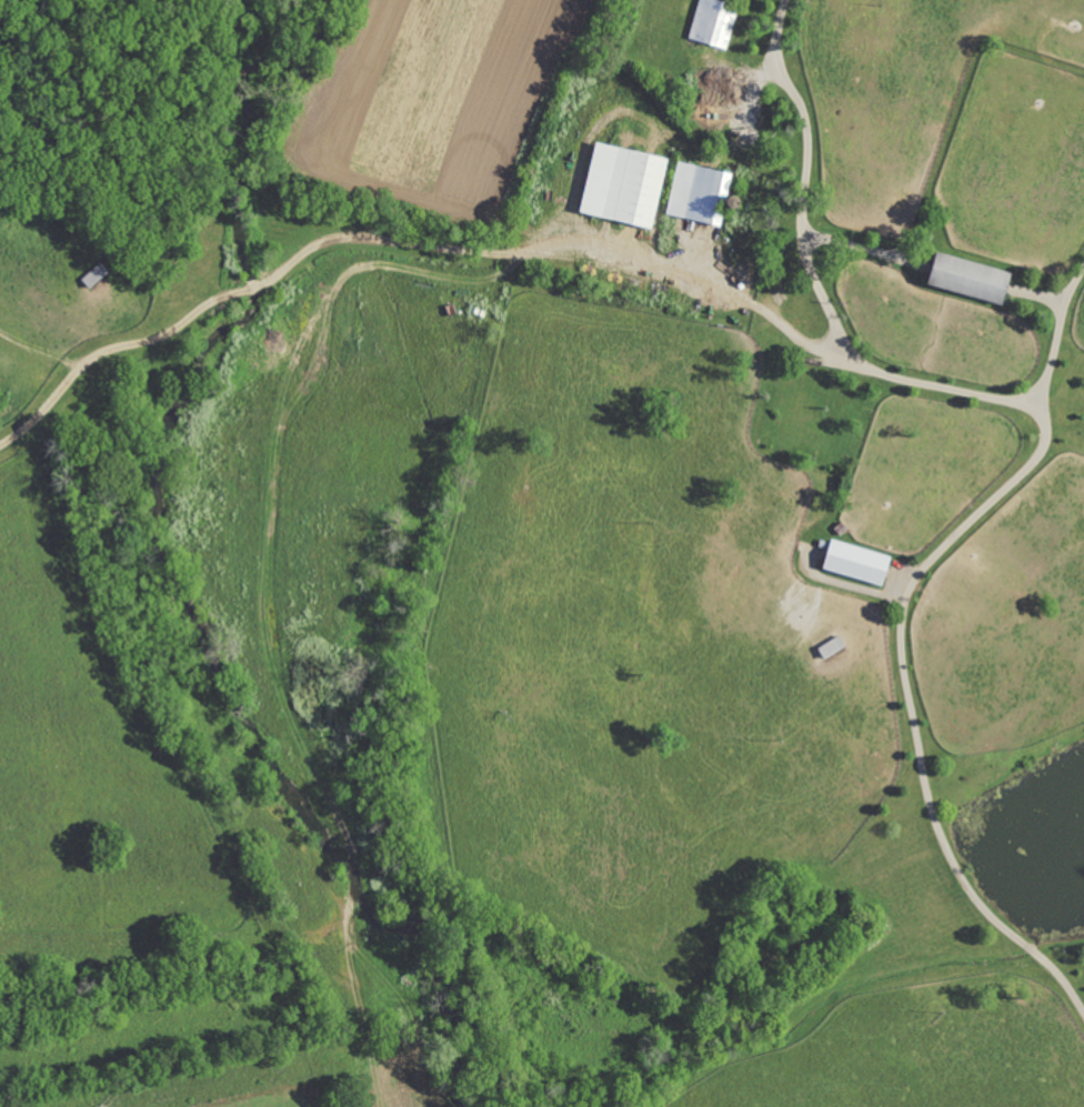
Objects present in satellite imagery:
building: (712, 24)
building: (621, 187)
building: (696, 194)
road: (405, 243)
road: (856, 246)
building: (957, 278)
road: (817, 281)
road: (1042, 290)
building: (843, 562)
road: (905, 644)

